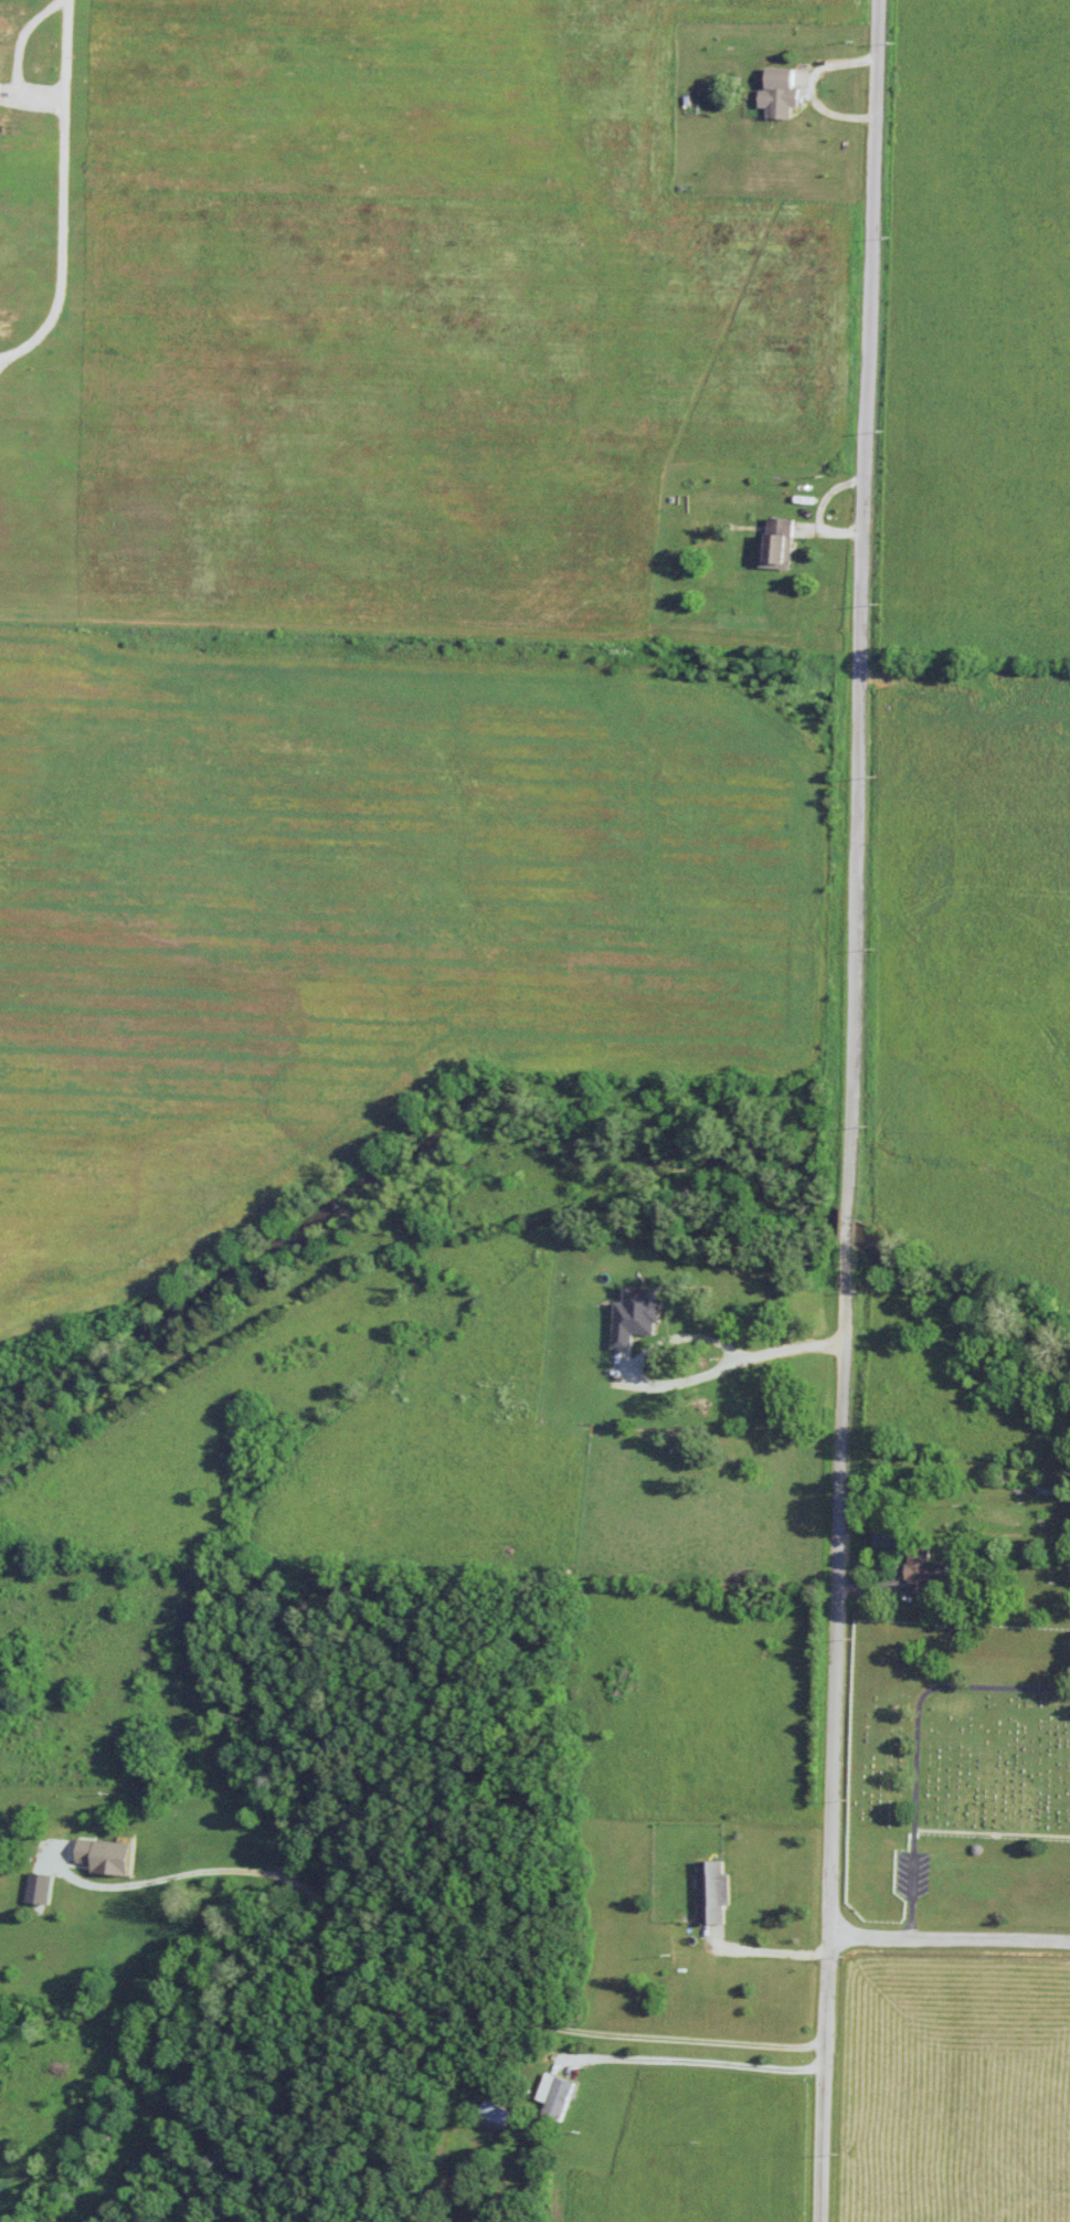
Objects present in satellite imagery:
road: (17, 63)
road: (792, 83)
building: (783, 92)
road: (62, 191)
road: (1, 358)
road: (1, 360)
building: (782, 542)
road: (849, 1111)
road: (760, 1347)
building: (650, 1433)
building: (744, 1471)
building: (889, 1539)
building: (928, 1572)
building: (152, 1843)
building: (42, 1886)
building: (713, 1891)
road: (949, 1941)
road: (754, 1956)
road: (689, 2063)
building: (555, 2095)
building: (494, 2117)

